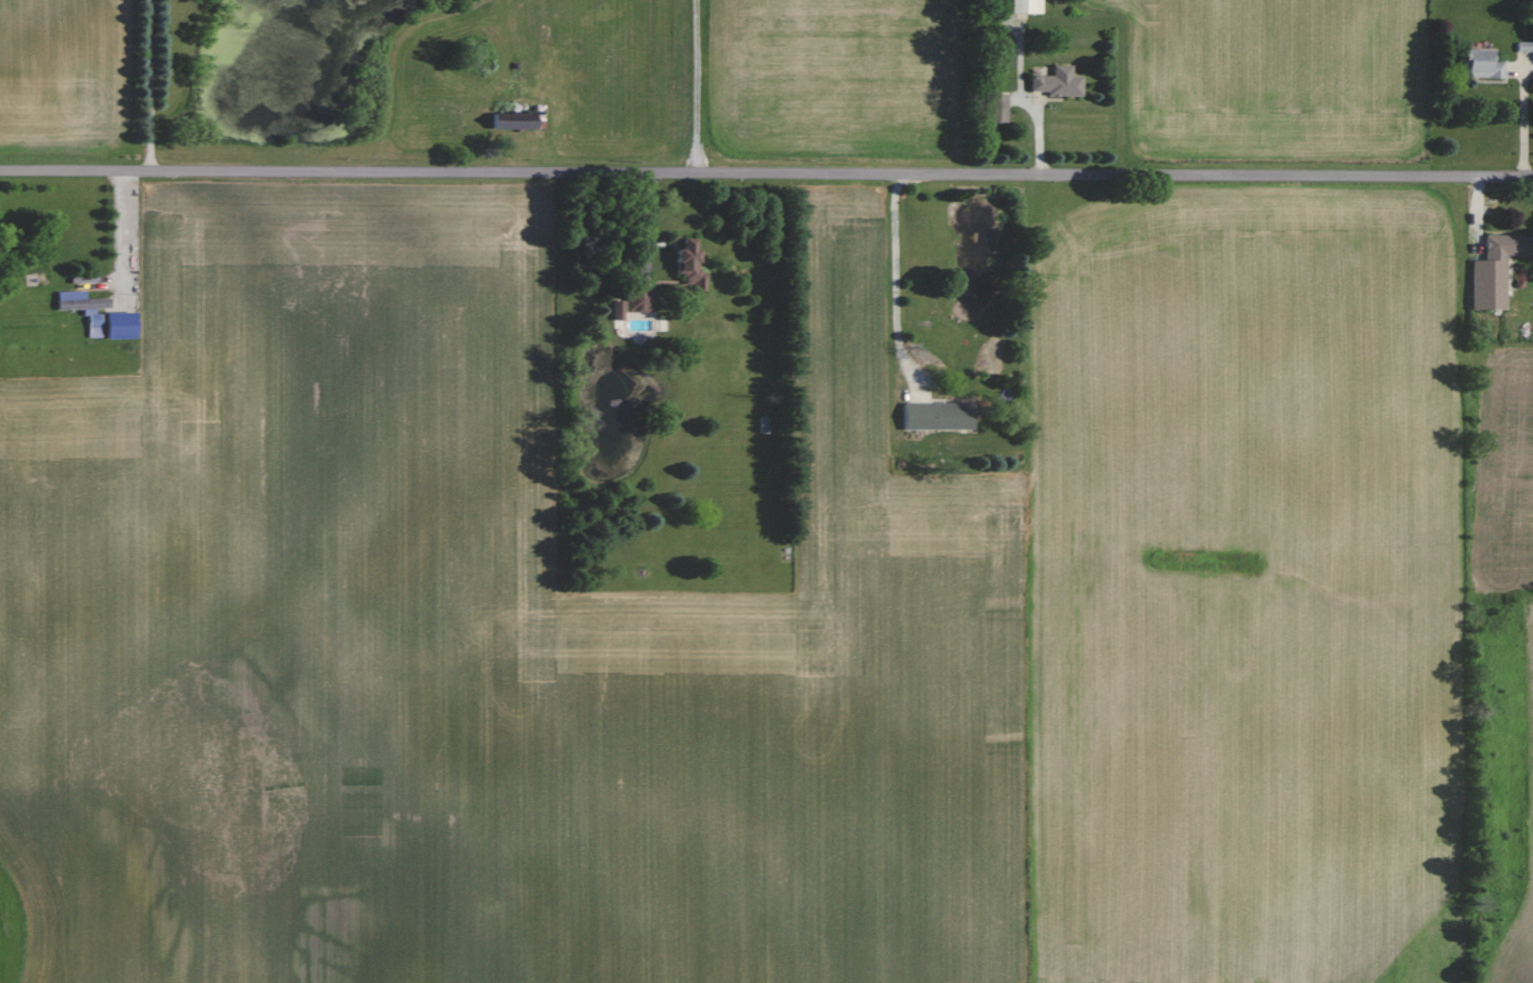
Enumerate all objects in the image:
building: (1023, 6)
building: (1531, 47)
building: (1479, 64)
building: (1056, 82)
road: (150, 85)
road: (696, 86)
road: (1024, 99)
building: (995, 108)
building: (509, 121)
road: (766, 173)
road: (116, 230)
building: (685, 265)
building: (1493, 270)
road: (895, 279)
building: (631, 303)
building: (82, 308)
building: (117, 325)
building: (935, 416)

